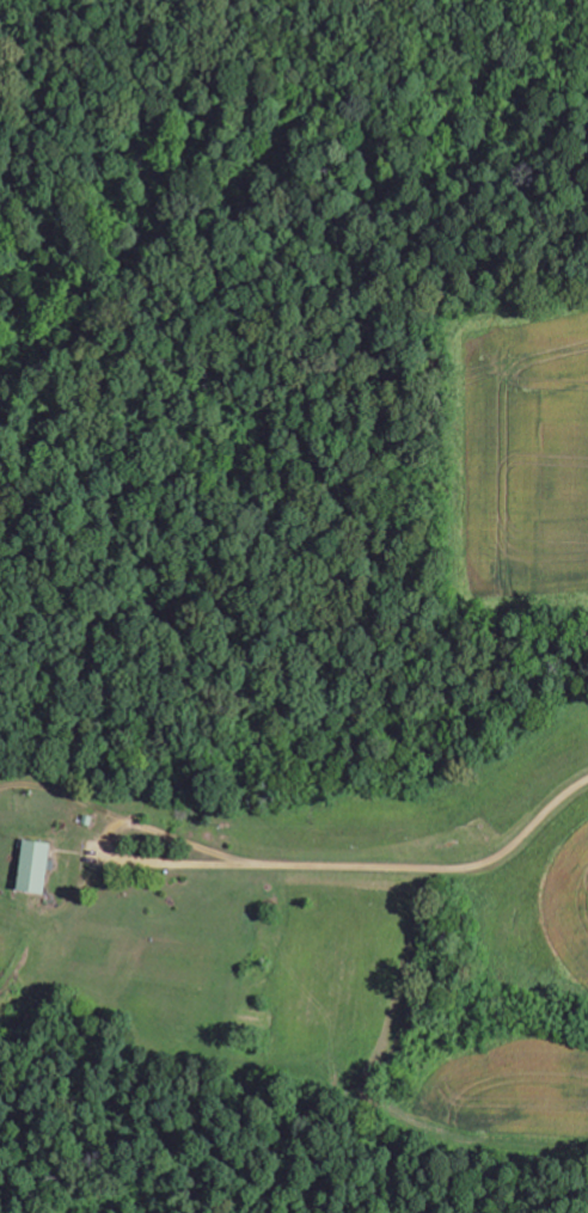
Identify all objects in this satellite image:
building: (32, 866)

